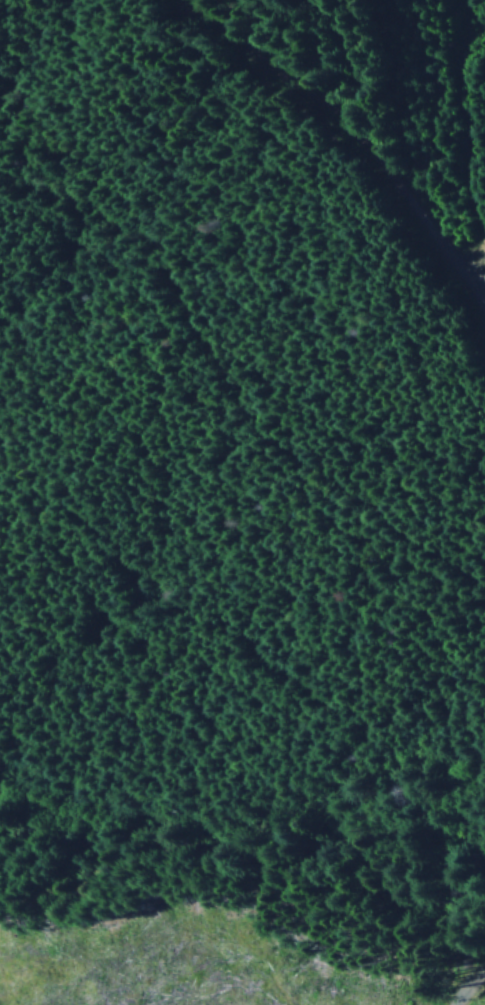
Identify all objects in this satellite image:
road: (322, 214)
road: (476, 996)

